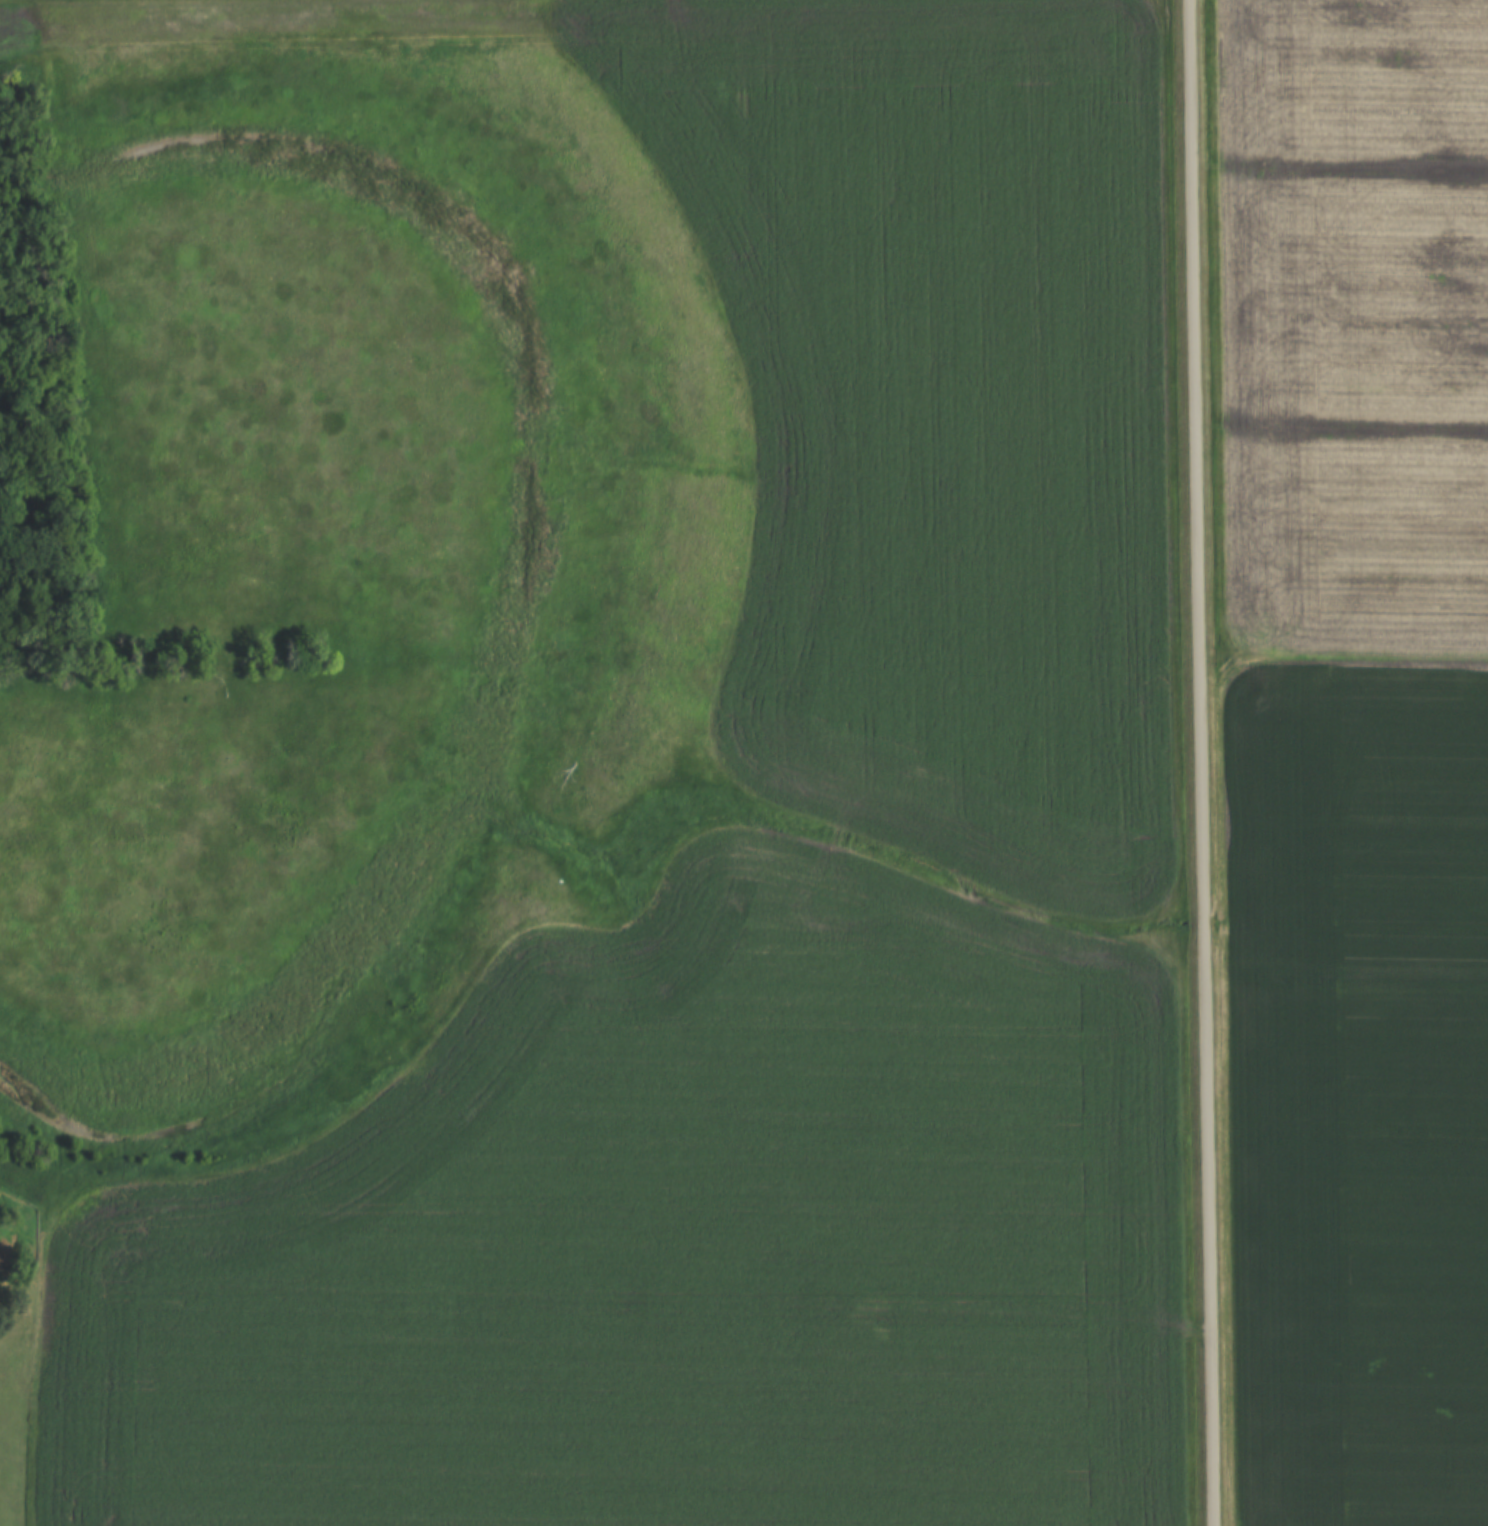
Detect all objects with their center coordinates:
road: (1189, 763)

